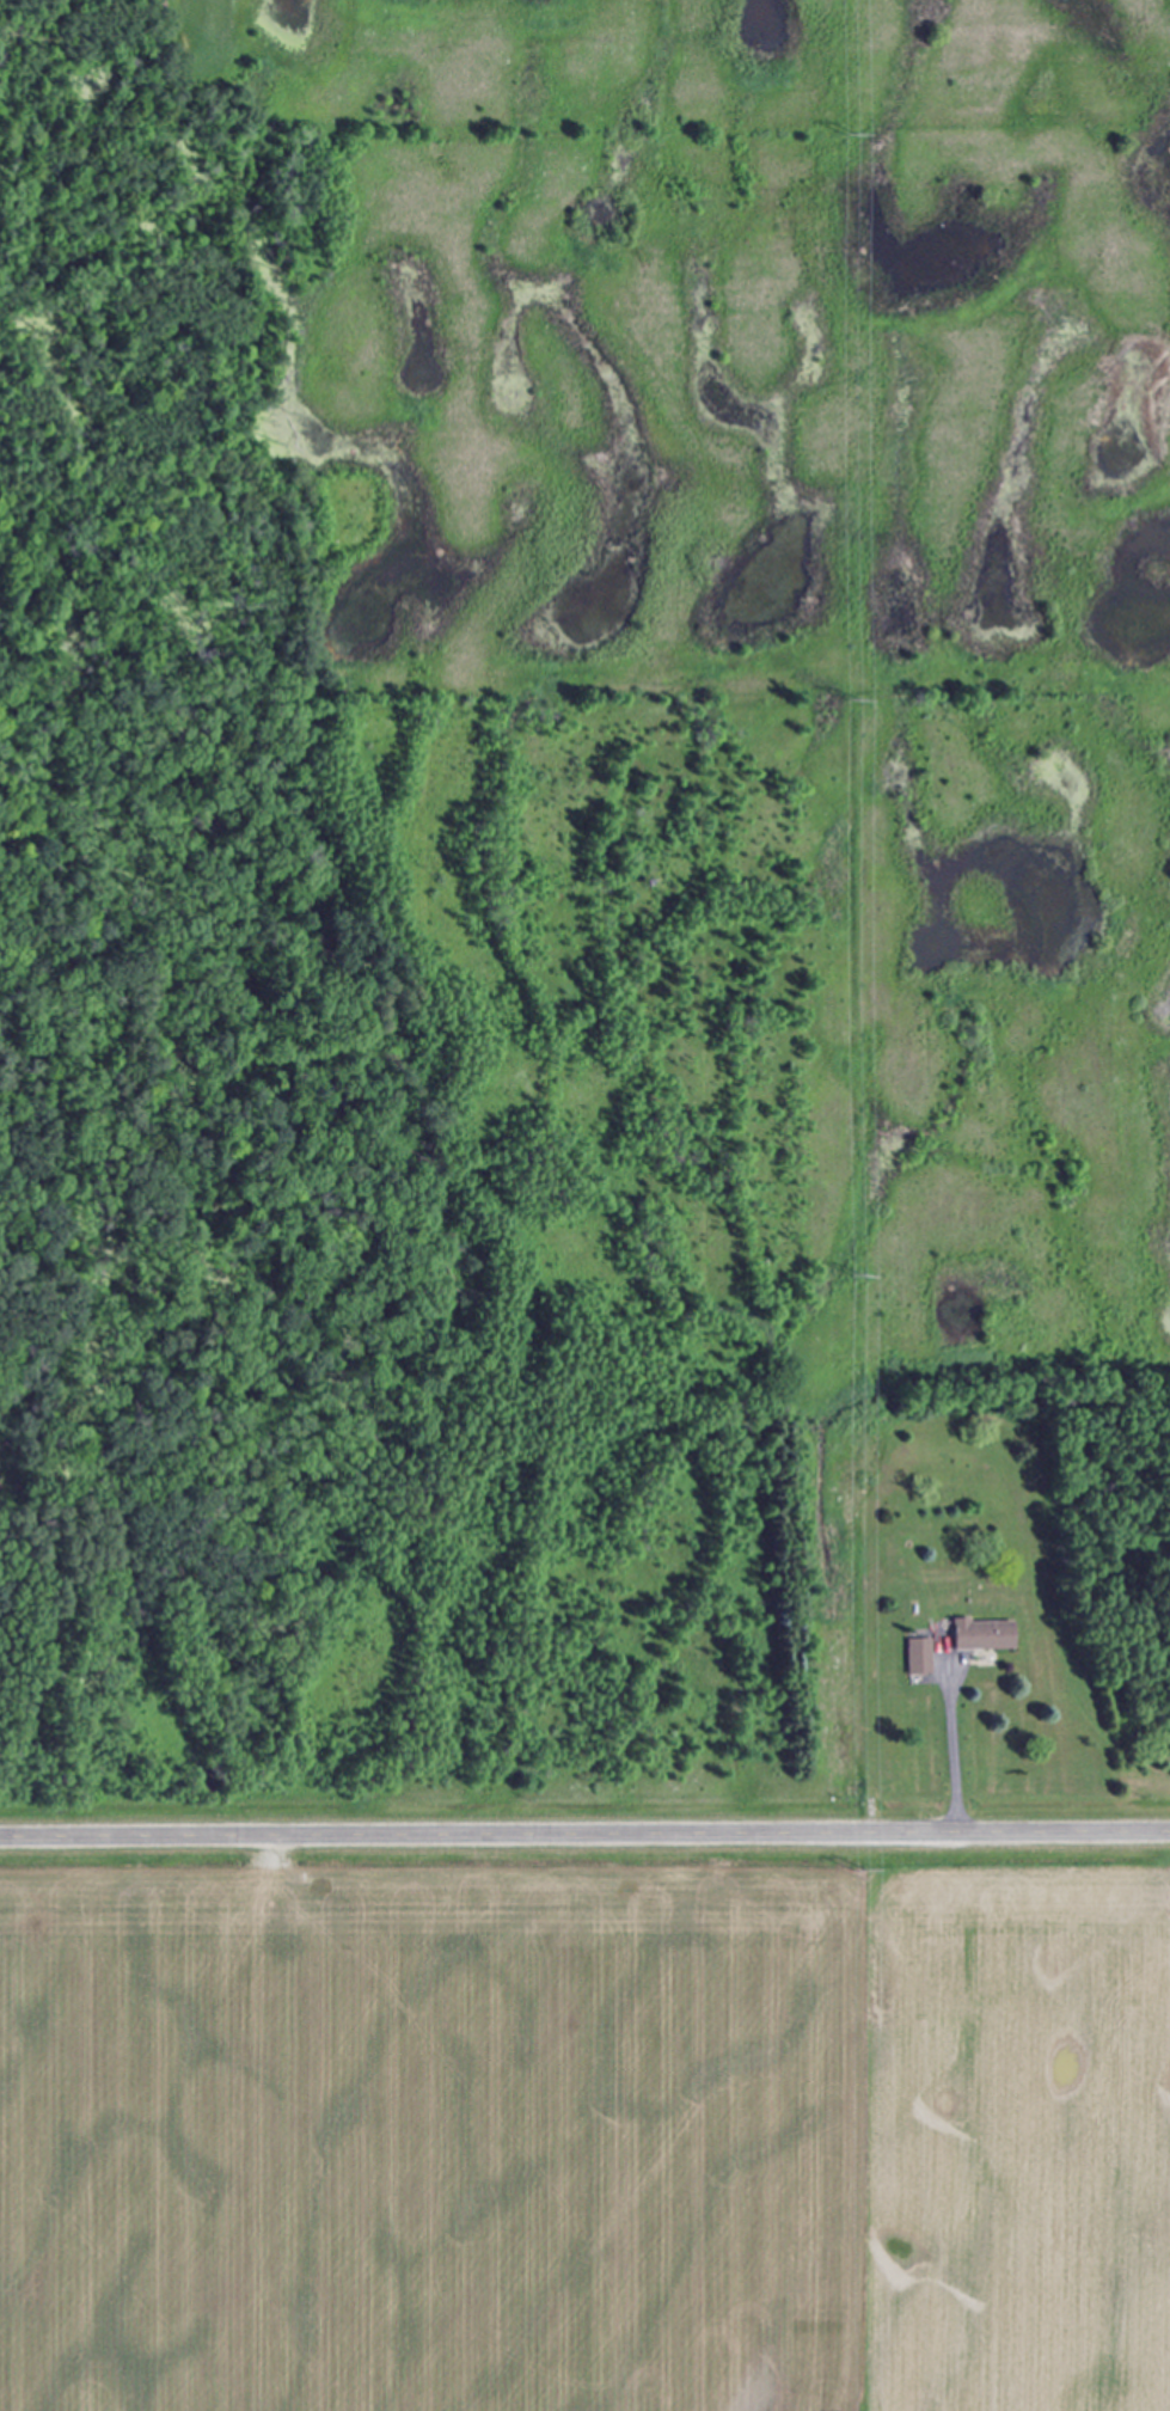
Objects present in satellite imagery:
power tower: (854, 134)
power tower: (857, 694)
power tower: (862, 1272)
building: (986, 1635)
road: (952, 1749)
road: (584, 1830)
power tower: (857, 1872)

